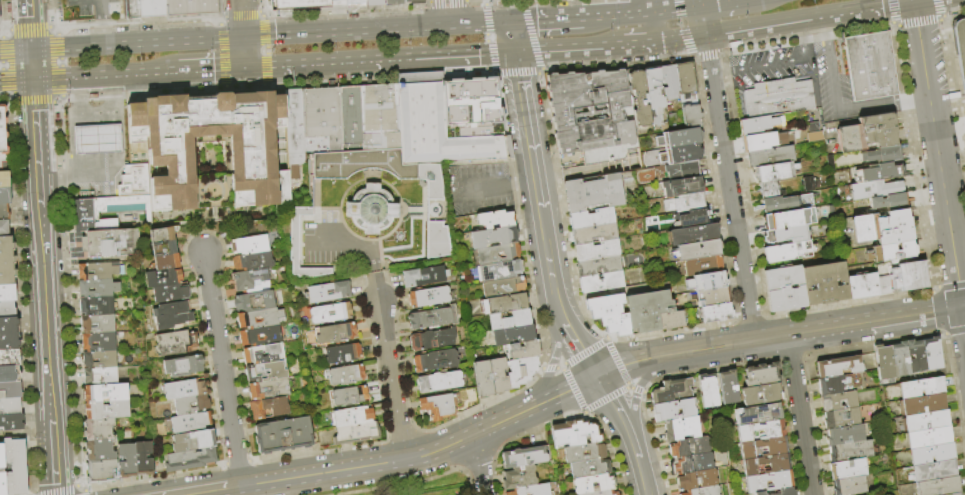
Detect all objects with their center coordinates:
building: (390, 0)
road: (911, 0)
road: (915, 0)
building: (410, 1)
traffic signals: (912, 1)
building: (353, 2)
building: (372, 3)
road: (719, 3)
building: (296, 4)
road: (653, 6)
road: (867, 7)
road: (101, 8)
parking lot: (94, 9)
building: (173, 9)
road: (676, 9)
road: (448, 12)
road: (617, 15)
road: (820, 15)
road: (338, 16)
flagpole: (953, 16)
road: (242, 18)
road: (543, 20)
road: (702, 20)
traffic signals: (506, 22)
road: (28, 24)
road: (761, 25)
road: (655, 27)
road: (825, 28)
road: (374, 30)
road: (103, 31)
road: (509, 36)
road: (679, 37)
traffic signals: (243, 38)
road: (809, 39)
road: (639, 43)
road: (136, 44)
road: (567, 47)
road: (920, 47)
building: (960, 48)
road: (14, 50)
traffic signals: (30, 50)
traffic signals: (513, 51)
flagpole: (767, 51)
road: (244, 52)
road: (707, 54)
road: (379, 58)
road: (31, 64)
traffic signals: (245, 66)
road: (768, 66)
building: (870, 66)
road: (207, 68)
road: (724, 73)
road: (100, 74)
building: (685, 78)
road: (15, 79)
traffic signals: (32, 79)
building: (669, 81)
road: (80, 87)
road: (114, 91)
building: (654, 96)
road: (913, 96)
building: (639, 98)
building: (778, 98)
building: (469, 105)
road: (835, 105)
road: (81, 109)
road: (99, 110)
building: (592, 114)
building: (321, 115)
building: (349, 116)
building: (691, 116)
building: (379, 117)
building: (756, 125)
building: (436, 126)
building: (295, 127)
building: (812, 127)
road: (526, 129)
building: (867, 133)
building: (814, 136)
building: (680, 138)
building: (96, 139)
building: (3, 141)
building: (760, 141)
road: (36, 153)
building: (253, 153)
building: (681, 154)
building: (881, 154)
building: (769, 156)
building: (830, 163)
building: (374, 167)
road: (92, 170)
building: (683, 170)
building: (884, 171)
building: (773, 172)
road: (51, 173)
building: (4, 179)
building: (134, 181)
road: (523, 182)
building: (809, 184)
road: (488, 186)
building: (682, 186)
parking lot: (479, 189)
building: (767, 189)
building: (874, 190)
building: (593, 193)
building: (5, 196)
road: (945, 201)
building: (889, 202)
building: (685, 203)
building: (784, 204)
road: (732, 208)
building: (369, 210)
building: (104, 212)
building: (4, 213)
building: (591, 218)
building: (494, 219)
building: (692, 219)
building: (788, 219)
building: (4, 228)
building: (882, 228)
building: (594, 233)
building: (692, 234)
building: (162, 235)
building: (783, 235)
building: (493, 237)
building: (436, 239)
building: (292, 241)
road: (332, 242)
building: (111, 243)
building: (249, 245)
building: (6, 246)
building: (164, 249)
building: (596, 250)
building: (696, 250)
road: (546, 251)
building: (788, 251)
building: (890, 252)
building: (496, 253)
building: (252, 261)
building: (167, 262)
road: (370, 264)
building: (702, 265)
building: (598, 266)
building: (7, 267)
building: (500, 270)
building: (97, 272)
building: (423, 276)
building: (907, 276)
building: (163, 278)
building: (249, 279)
building: (706, 281)
building: (601, 282)
building: (824, 284)
building: (865, 285)
building: (502, 287)
building: (98, 288)
building: (783, 288)
building: (7, 290)
building: (328, 292)
building: (171, 293)
building: (428, 297)
building: (712, 297)
building: (254, 301)
building: (503, 304)
road: (556, 304)
building: (97, 306)
road: (964, 307)
building: (7, 309)
building: (652, 312)
building: (330, 313)
building: (716, 313)
building: (608, 314)
building: (172, 315)
road: (964, 315)
building: (432, 317)
building: (259, 318)
road: (561, 319)
building: (508, 320)
building: (98, 324)
road: (45, 328)
road: (814, 331)
building: (8, 333)
building: (336, 334)
building: (513, 334)
building: (260, 336)
building: (432, 339)
building: (99, 342)
building: (176, 343)
building: (521, 350)
road: (579, 350)
building: (263, 353)
building: (343, 354)
building: (932, 354)
building: (916, 356)
building: (9, 358)
building: (100, 360)
building: (435, 360)
building: (900, 360)
road: (553, 362)
road: (630, 362)
building: (884, 362)
building: (183, 366)
building: (839, 366)
road: (222, 369)
building: (266, 371)
building: (520, 371)
building: (10, 374)
building: (345, 375)
building: (497, 375)
building: (101, 376)
traffic signals: (597, 377)
road: (390, 379)
building: (481, 379)
building: (439, 381)
building: (842, 384)
building: (762, 385)
building: (729, 387)
building: (922, 388)
building: (269, 389)
building: (10, 390)
building: (184, 390)
road: (565, 391)
building: (672, 391)
building: (708, 391)
building: (106, 393)
road: (635, 393)
building: (349, 396)
building: (840, 401)
building: (191, 405)
building: (923, 405)
building: (10, 406)
building: (437, 406)
building: (268, 408)
road: (617, 408)
building: (107, 410)
building: (674, 410)
building: (758, 414)
road: (799, 415)
building: (353, 417)
building: (842, 419)
building: (926, 421)
building: (11, 422)
building: (190, 423)
building: (99, 429)
building: (681, 429)
building: (761, 431)
building: (357, 433)
building: (586, 433)
building: (564, 434)
building: (282, 435)
building: (845, 435)
building: (930, 437)
building: (193, 441)
building: (689, 447)
building: (764, 448)
road: (635, 449)
building: (100, 450)
building: (851, 451)
building: (585, 453)
building: (932, 454)
building: (526, 457)
building: (144, 458)
building: (190, 460)
road: (53, 461)
building: (126, 461)
road: (392, 462)
building: (693, 463)
road: (479, 464)
building: (767, 465)
building: (15, 467)
road: (641, 468)
building: (590, 469)
building: (848, 469)
building: (2, 471)
building: (933, 471)
building: (101, 472)
building: (519, 478)
road: (386, 479)
building: (698, 480)
building: (769, 482)
building: (594, 485)
building: (850, 486)
road: (234, 487)
park: (432, 487)
building: (939, 487)
road: (645, 488)
building: (532, 490)
road: (64, 491)
building: (704, 491)
road: (208, 492)
building: (786, 492)
road: (86, 493)
building: (605, 493)
building: (759, 493)
building: (957, 494)

